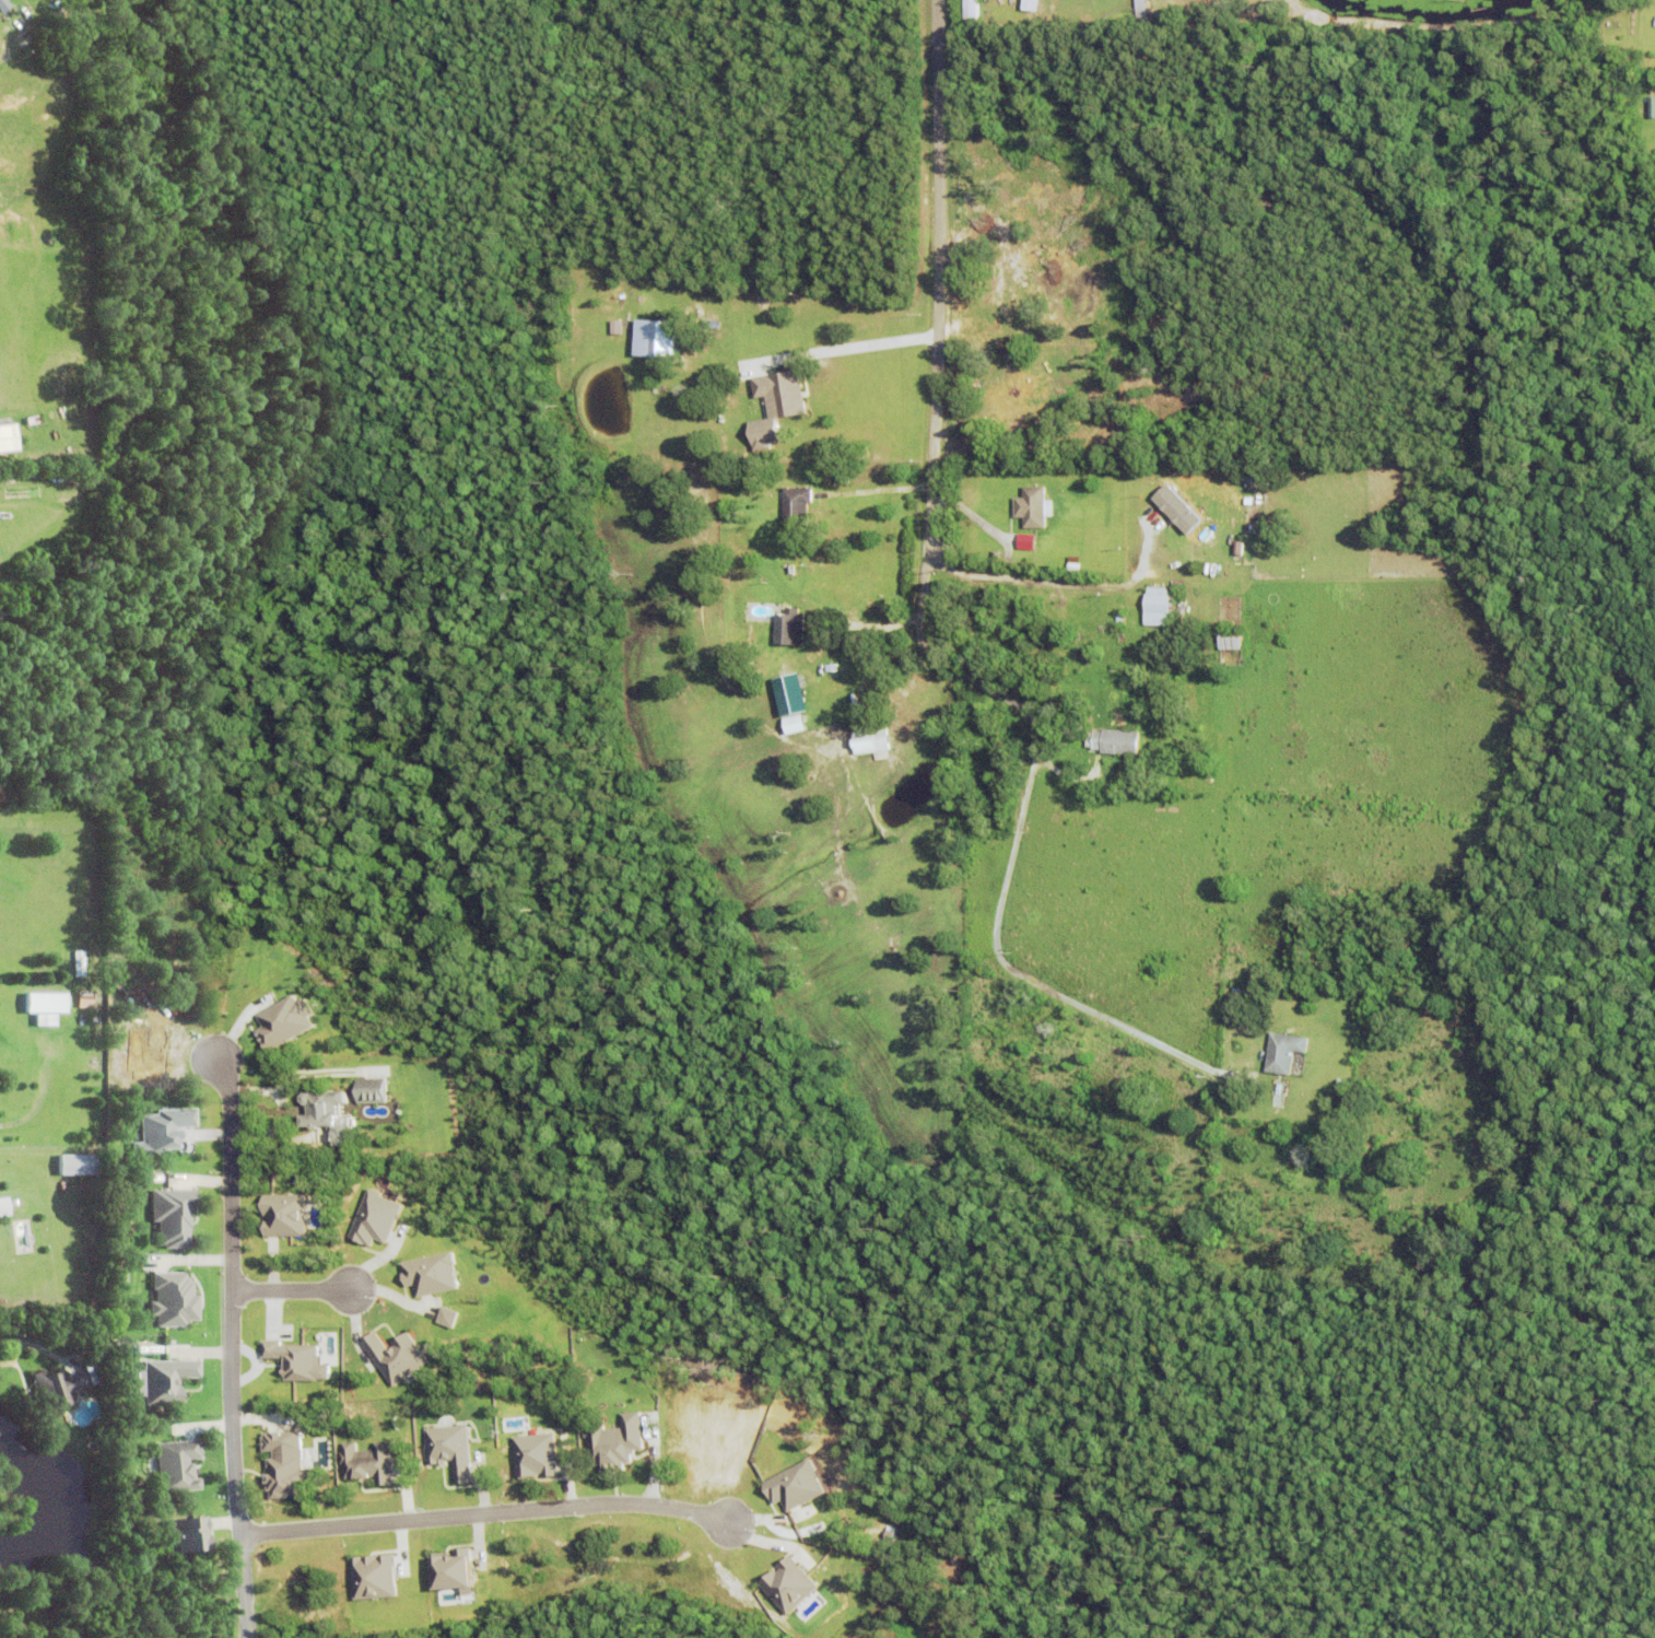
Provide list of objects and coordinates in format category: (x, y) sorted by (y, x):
building: (1028, 1)
building: (969, 9)
building: (1143, 17)
building: (750, 268)
road: (936, 276)
building: (1011, 323)
building: (978, 337)
building: (664, 339)
road: (842, 348)
building: (996, 356)
building: (1007, 390)
building: (777, 406)
building: (3, 436)
building: (981, 442)
building: (843, 478)
road: (878, 492)
building: (796, 508)
building: (1032, 508)
building: (997, 555)
building: (1073, 568)
road: (988, 574)
building: (1159, 608)
building: (1028, 610)
building: (1120, 619)
building: (791, 629)
building: (1230, 640)
road: (932, 655)
building: (832, 669)
building: (793, 723)
building: (872, 741)
building: (1114, 742)
building: (79, 964)
road: (1011, 970)
building: (1237, 993)
building: (85, 1001)
building: (45, 1009)
building: (281, 1020)
building: (1283, 1054)
building: (368, 1090)
building: (325, 1114)
building: (159, 1128)
building: (79, 1168)
building: (4, 1209)
building: (281, 1214)
building: (169, 1216)
building: (374, 1218)
building: (429, 1274)
road: (287, 1292)
building: (171, 1299)
building: (97, 1326)
road: (227, 1346)
building: (66, 1348)
building: (394, 1356)
building: (295, 1360)
building: (163, 1379)
building: (62, 1390)
building: (614, 1442)
building: (449, 1449)
building: (533, 1454)
building: (367, 1462)
building: (283, 1463)
building: (172, 1464)
building: (794, 1485)
road: (481, 1516)
building: (184, 1534)
building: (451, 1570)
building: (373, 1576)
building: (787, 1584)
building: (10, 1626)

